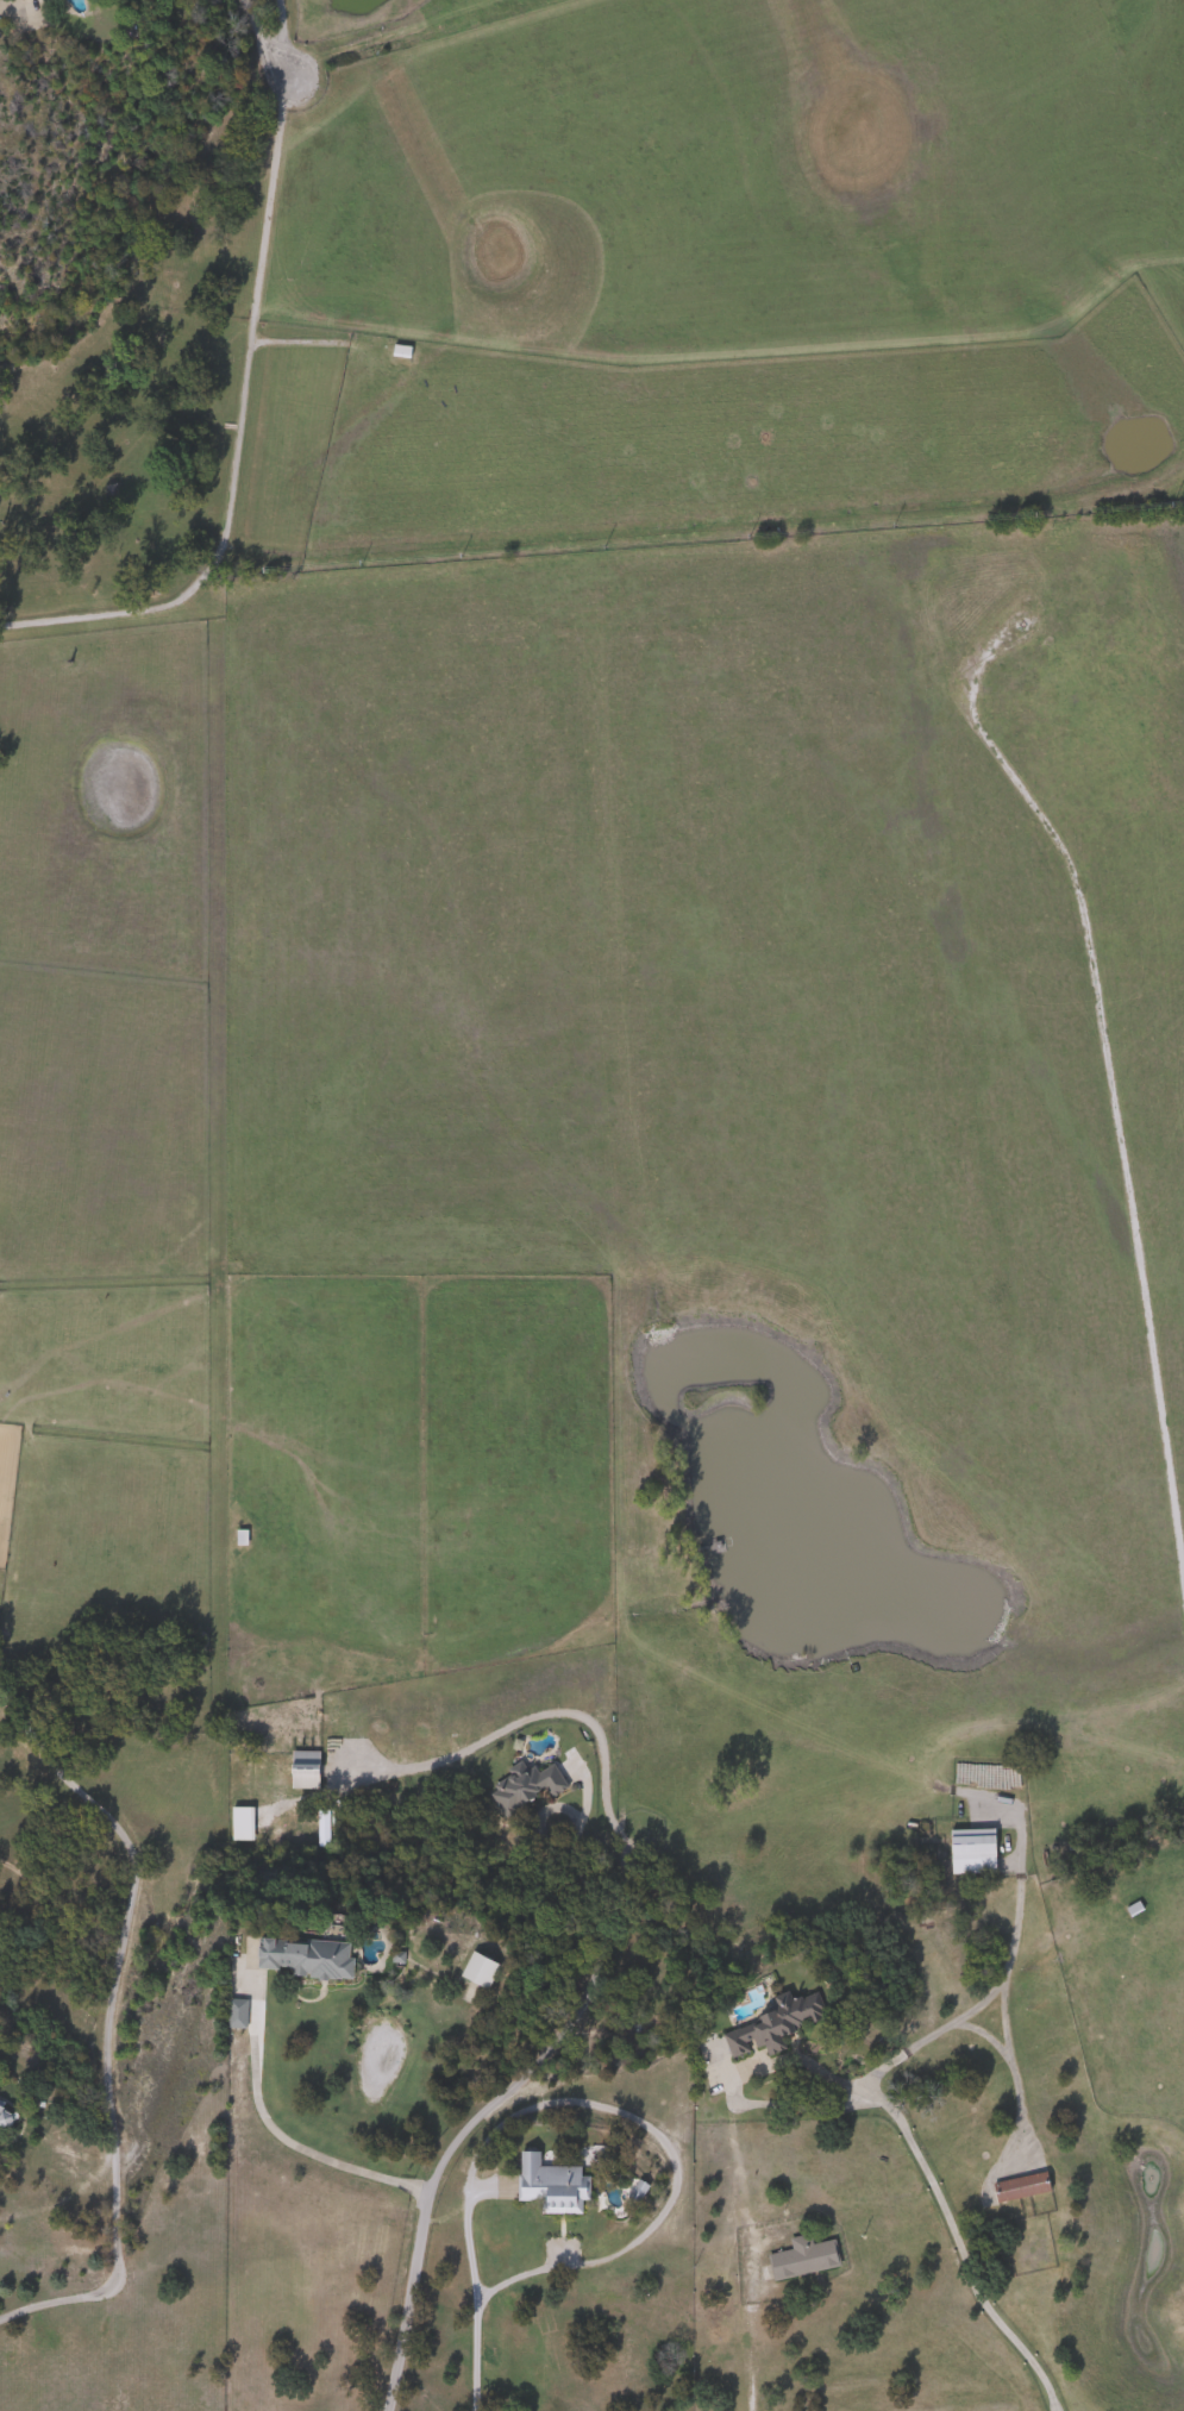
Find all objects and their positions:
road: (11, 8)
road: (276, 24)
road: (262, 36)
building: (403, 351)
road: (232, 431)
building: (240, 1536)
building: (308, 1768)
building: (527, 1787)
building: (237, 1823)
road: (538, 1830)
road: (622, 1847)
building: (975, 1850)
building: (319, 1958)
road: (970, 1994)
building: (777, 2024)
road: (119, 2029)
road: (970, 2036)
road: (997, 2061)
road: (256, 2105)
building: (7, 2116)
road: (629, 2117)
road: (416, 2185)
building: (1023, 2186)
building: (557, 2188)
road: (957, 2230)
building: (804, 2257)
road: (753, 2290)
road: (406, 2300)
road: (471, 2356)

